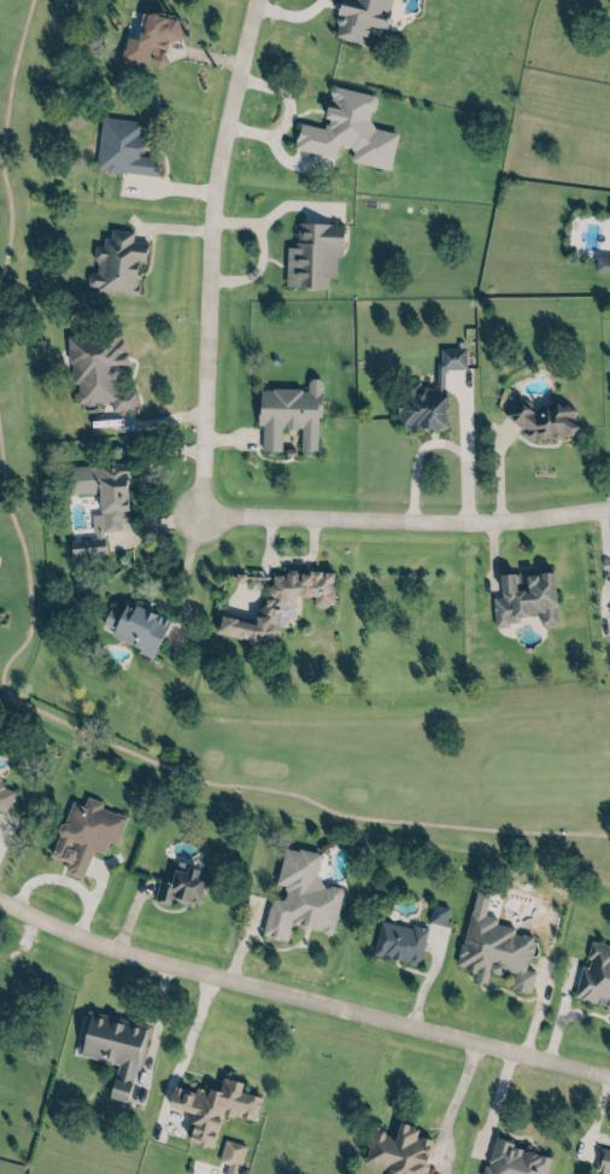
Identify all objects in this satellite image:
road: (285, 13)
building: (359, 16)
building: (147, 42)
building: (346, 129)
building: (116, 147)
building: (608, 214)
road: (207, 253)
building: (307, 255)
building: (113, 263)
building: (599, 263)
building: (94, 368)
building: (426, 395)
building: (283, 416)
building: (541, 417)
road: (436, 440)
building: (94, 500)
road: (403, 520)
building: (523, 600)
building: (277, 603)
building: (137, 627)
building: (4, 795)
building: (82, 831)
building: (178, 883)
building: (299, 895)
building: (435, 912)
building: (393, 940)
building: (492, 942)
building: (593, 974)
road: (300, 999)
building: (111, 1046)
road: (177, 1047)
building: (211, 1105)
road: (446, 1106)
building: (395, 1149)
building: (228, 1155)
building: (504, 1158)
building: (603, 1160)

